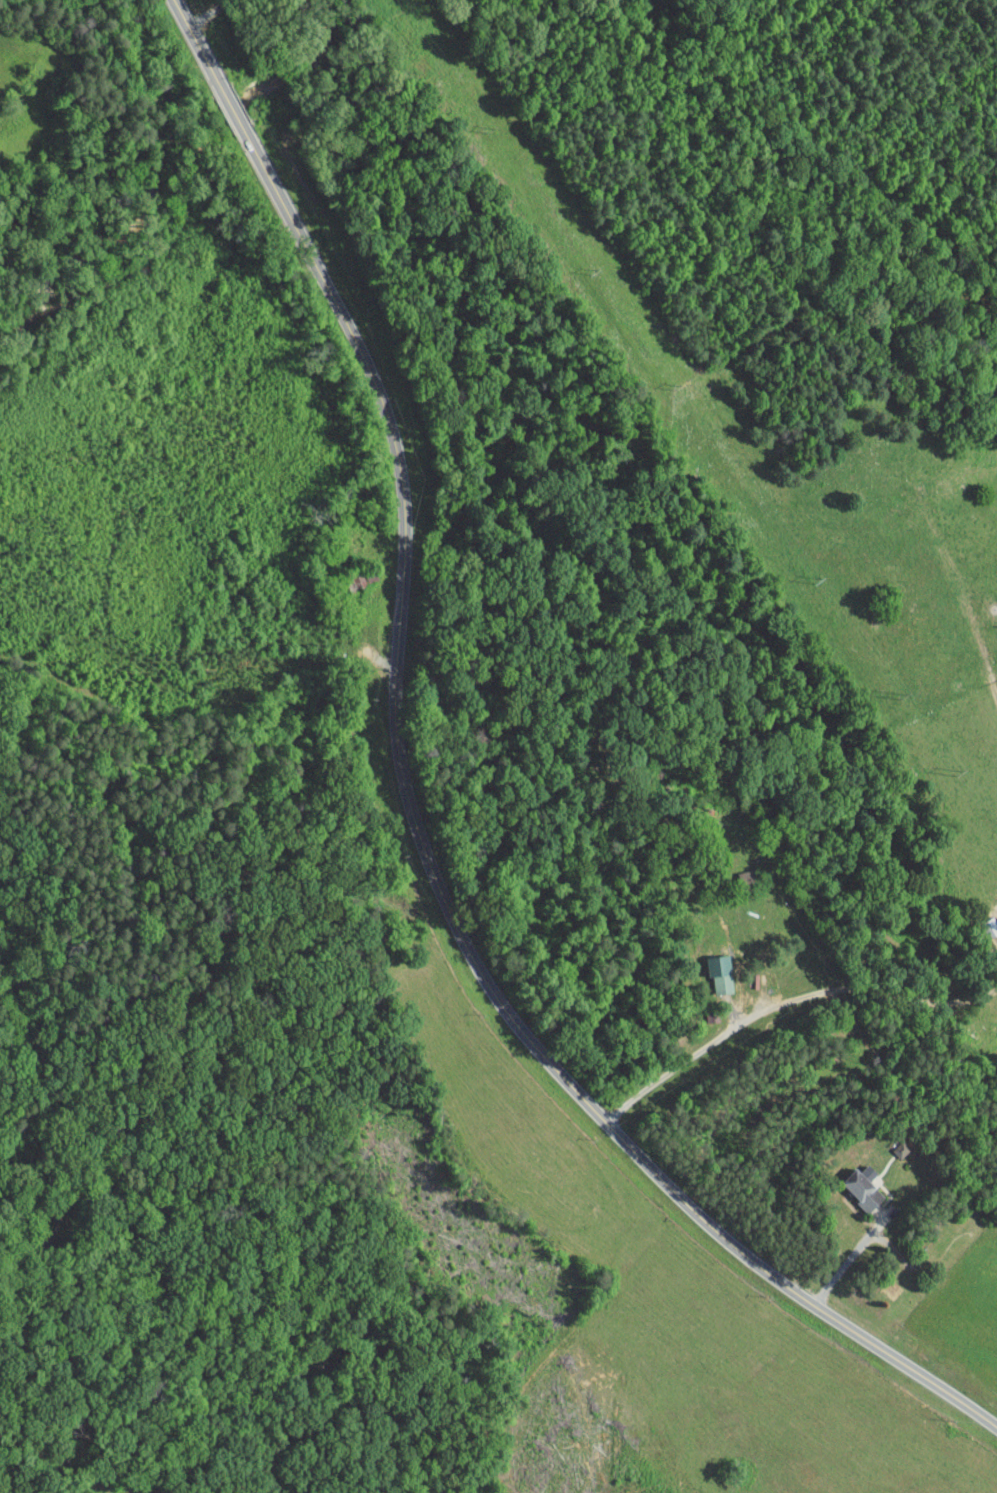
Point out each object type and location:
road: (206, 13)
road: (413, 813)
building: (711, 968)
road: (783, 1002)
building: (853, 1184)
road: (847, 1260)
road: (13, 1484)

